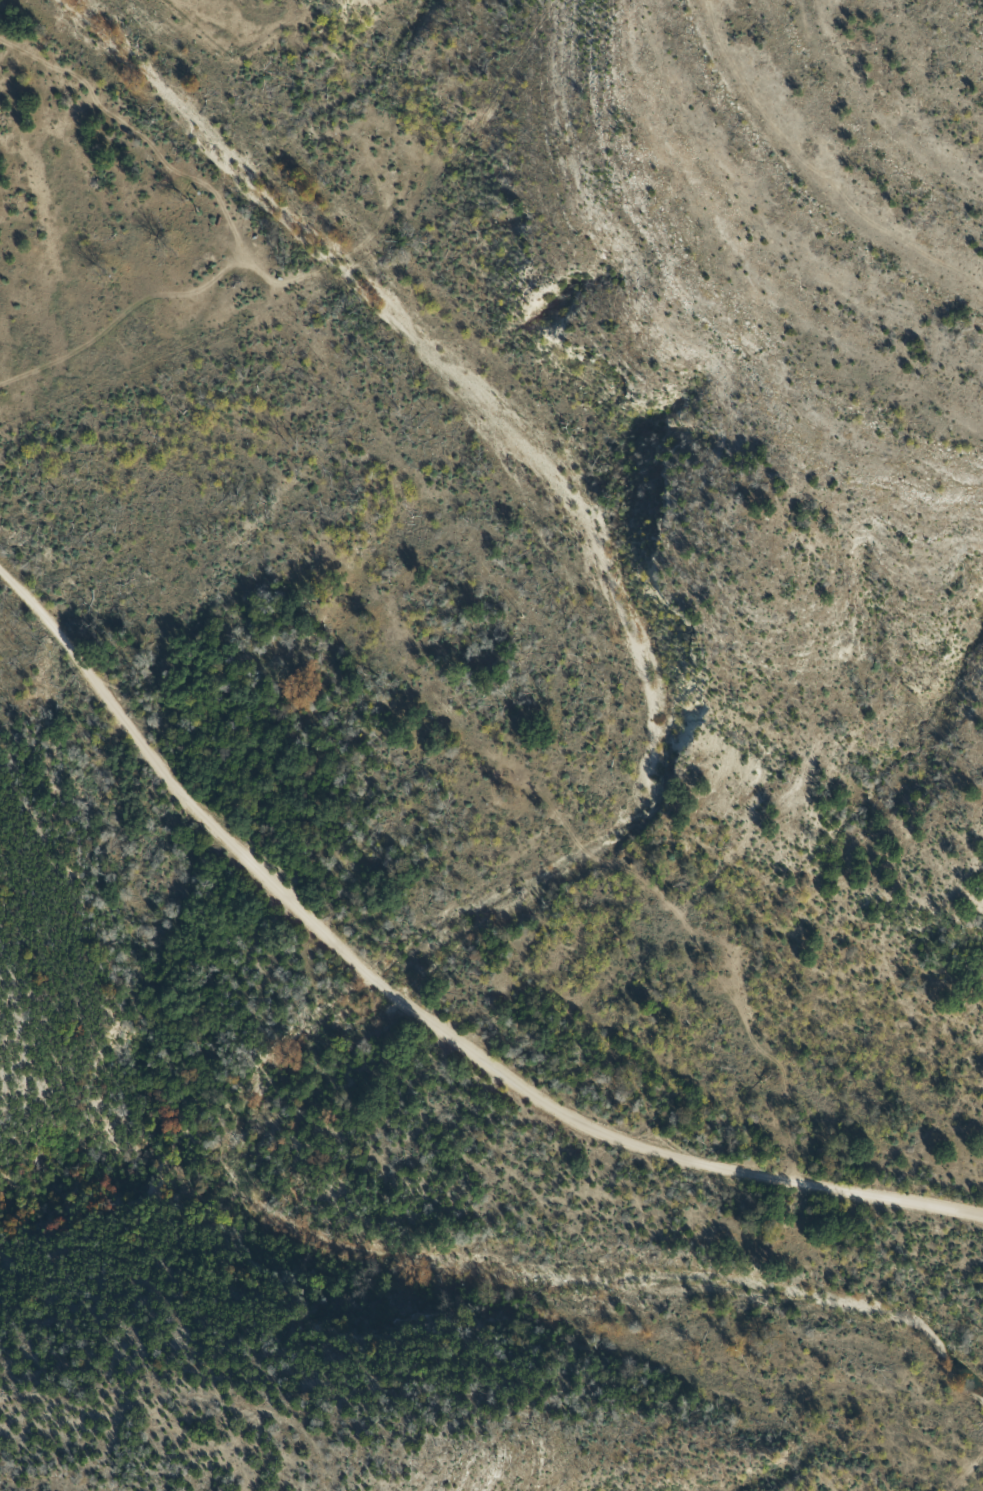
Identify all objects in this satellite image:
road: (435, 1012)

